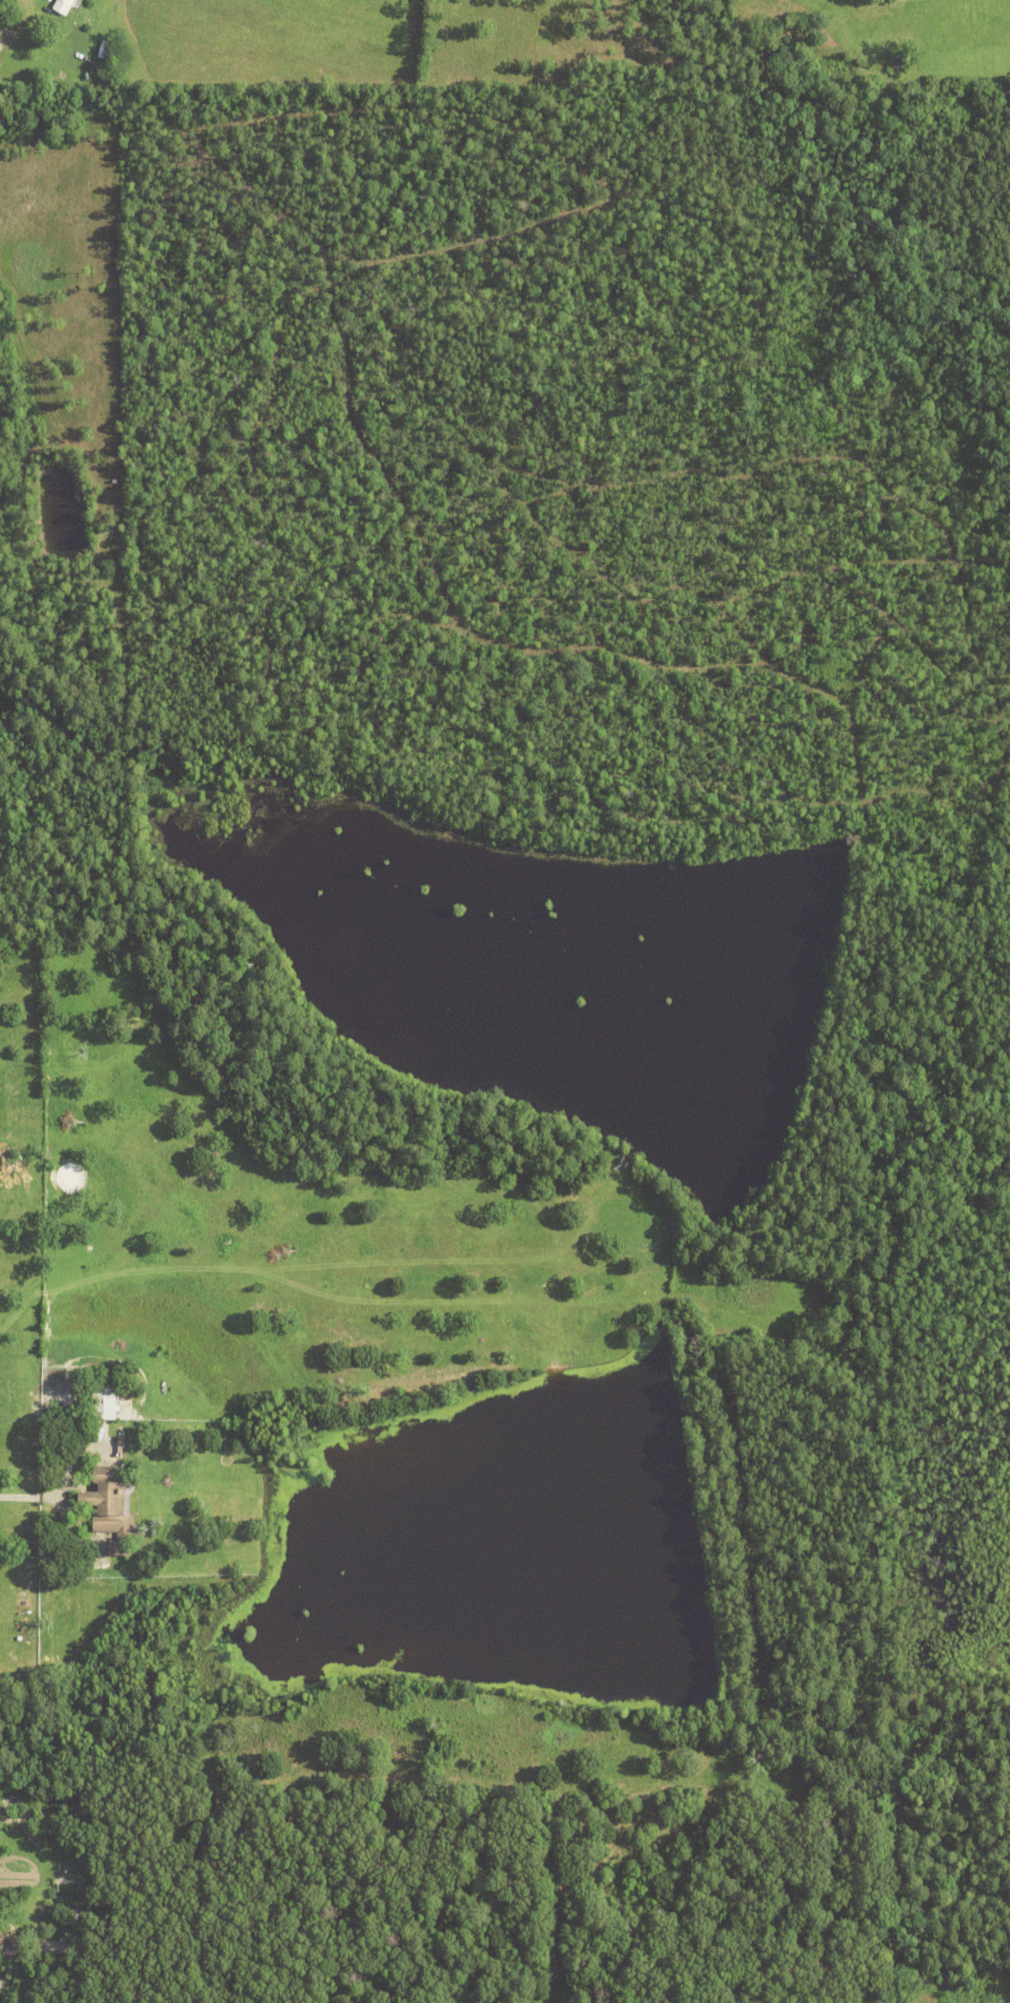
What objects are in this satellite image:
building: (63, 7)
building: (105, 51)
building: (900, 65)
building: (104, 1400)
building: (120, 1444)
road: (27, 1494)
building: (113, 1510)
building: (67, 1893)
road: (890, 1903)

